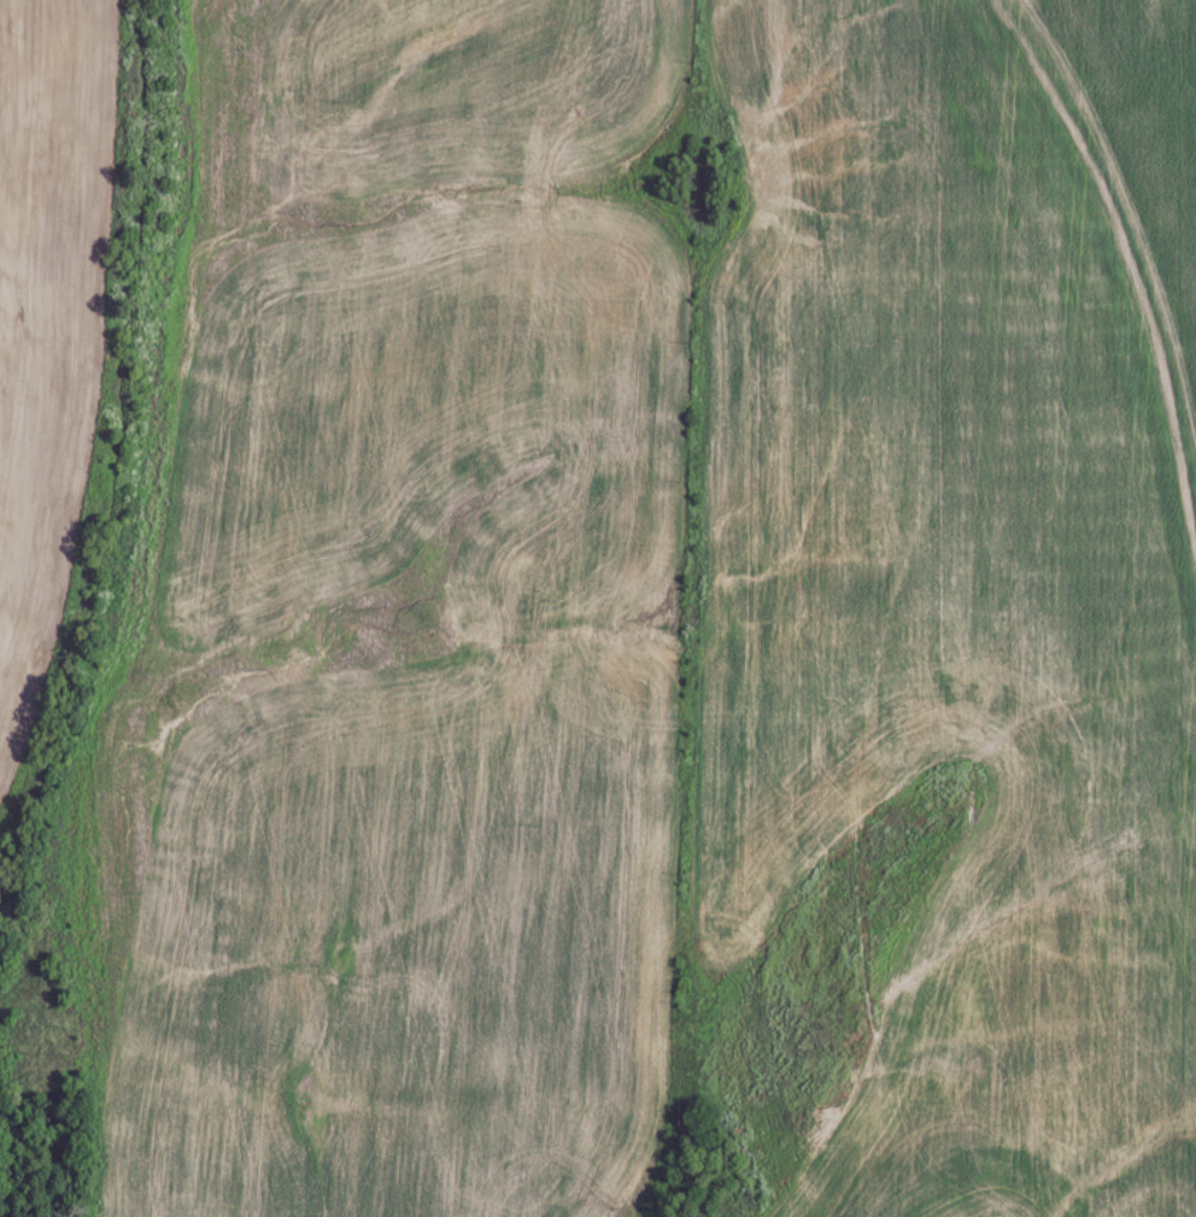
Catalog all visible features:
road: (1130, 292)

